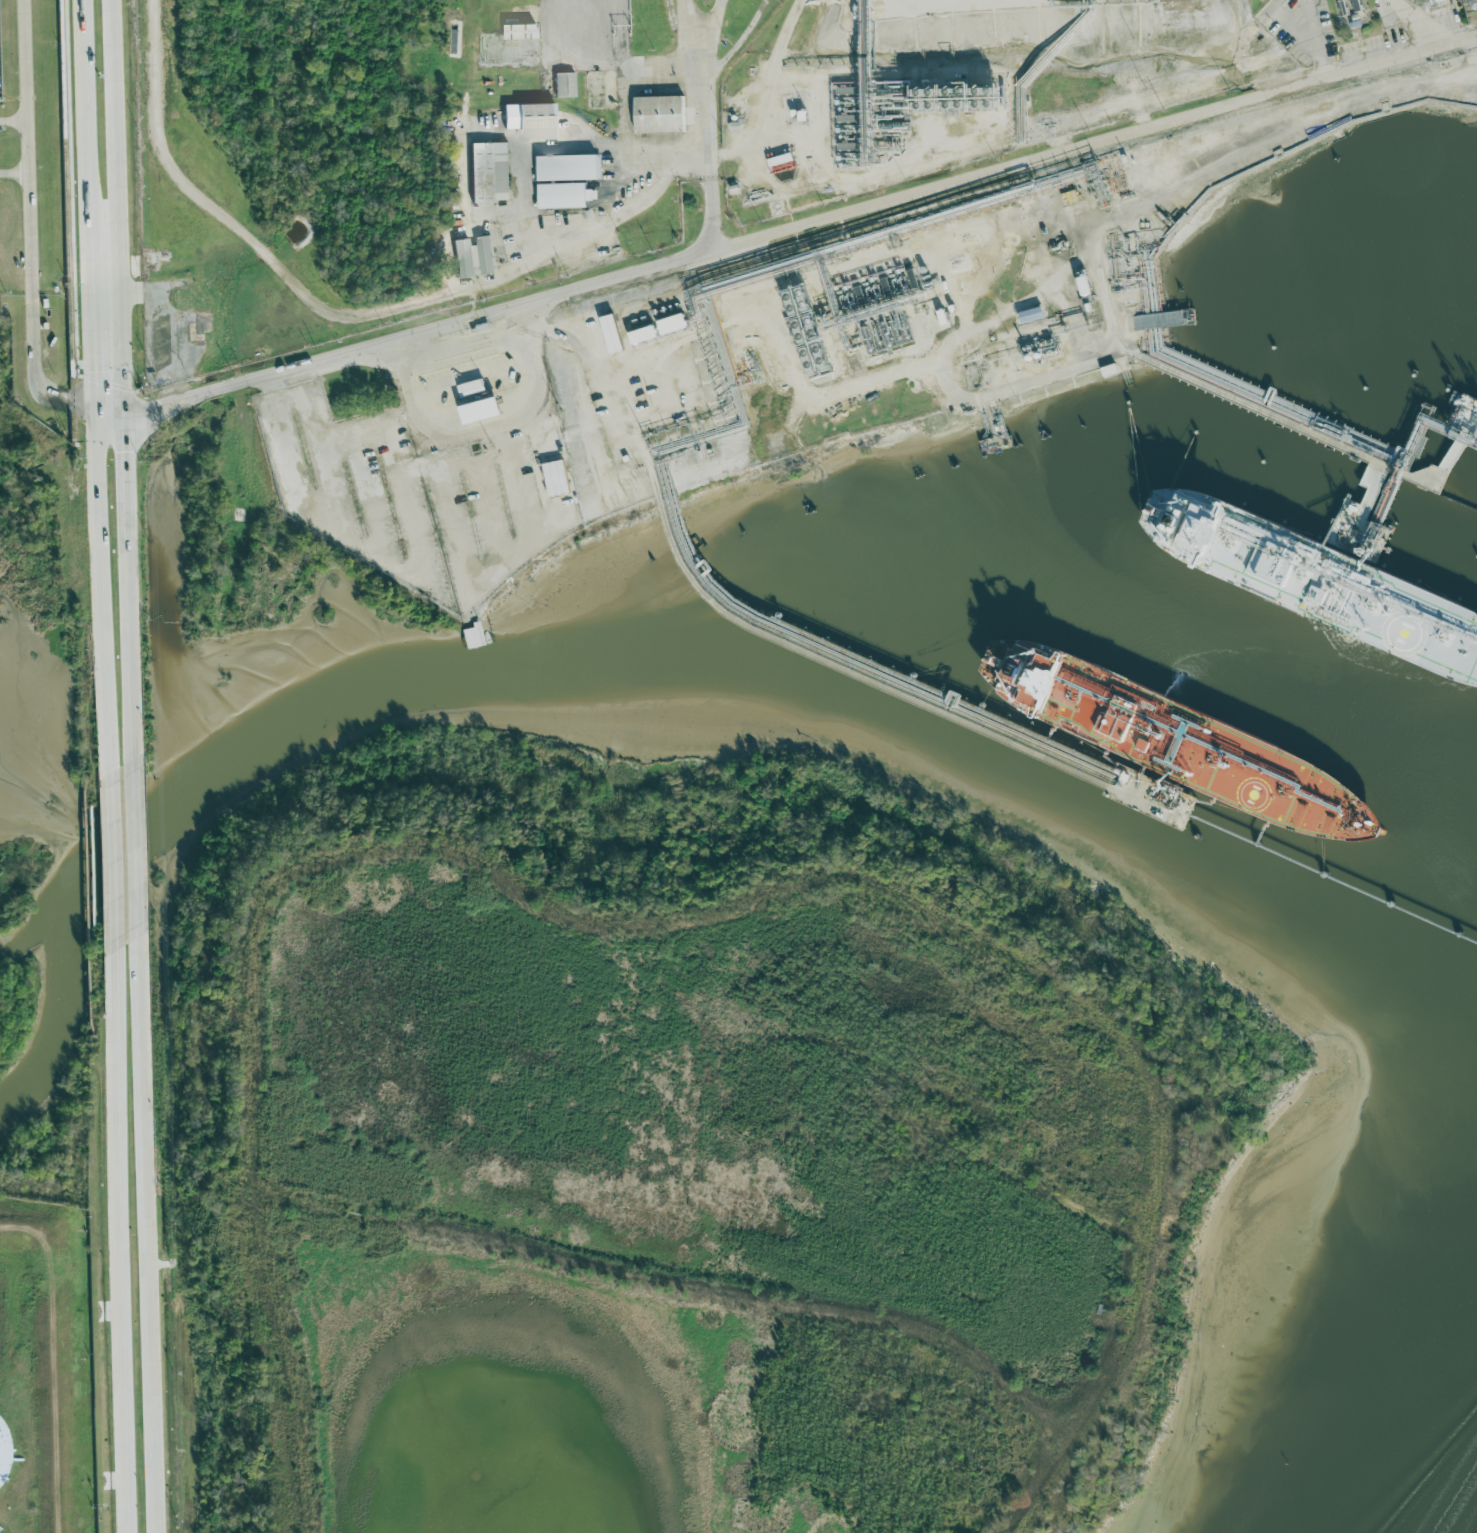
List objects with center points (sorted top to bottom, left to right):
building: (1175, 0)
building: (1438, 0)
building: (1472, 4)
road: (689, 22)
road: (1415, 23)
building: (518, 30)
road: (740, 44)
building: (563, 85)
road: (766, 92)
building: (658, 114)
building: (529, 120)
road: (706, 122)
road: (88, 169)
building: (489, 172)
road: (13, 173)
building: (566, 180)
road: (27, 210)
road: (800, 227)
building: (473, 256)
road: (343, 314)
building: (1030, 315)
building: (672, 324)
building: (610, 334)
building: (642, 334)
road: (95, 375)
road: (121, 385)
building: (472, 388)
road: (281, 394)
road: (81, 400)
traffic signals: (96, 413)
road: (109, 413)
traffic signals: (122, 413)
road: (486, 430)
road: (342, 435)
pier: (1320, 437)
pier: (1447, 443)
building: (554, 478)
road: (103, 598)
building: (469, 638)
river: (721, 677)
pier: (1019, 747)
road: (133, 849)
road: (113, 861)
river: (60, 1004)
road: (144, 1230)
road: (120, 1235)
road: (57, 1355)
road: (31, 1436)
building: (2, 1451)
river: (1443, 1463)

